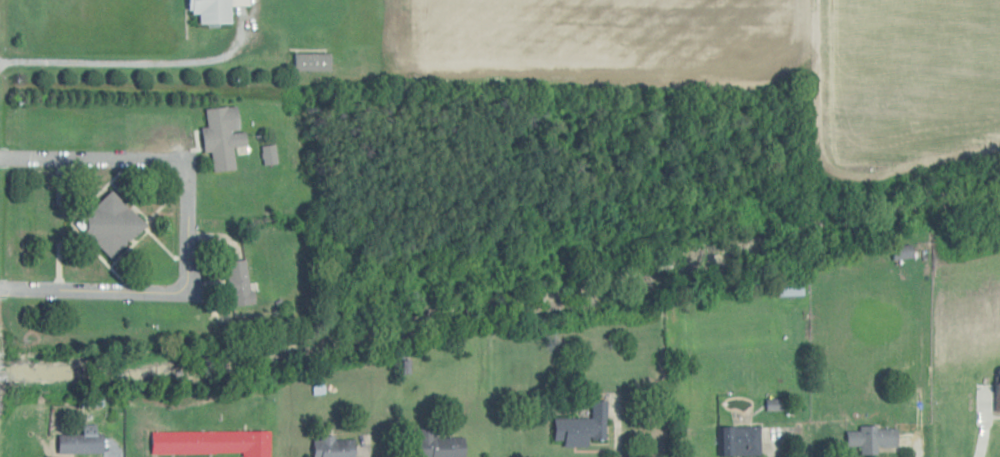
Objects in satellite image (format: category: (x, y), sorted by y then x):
building: (215, 10)
building: (311, 61)
road: (138, 70)
building: (221, 135)
building: (268, 154)
building: (110, 223)
road: (187, 227)
building: (900, 250)
building: (238, 282)
building: (789, 288)
road: (918, 357)
road: (615, 425)
building: (582, 427)
building: (872, 439)
building: (739, 441)
building: (81, 442)
building: (211, 442)
building: (438, 444)
building: (333, 447)

